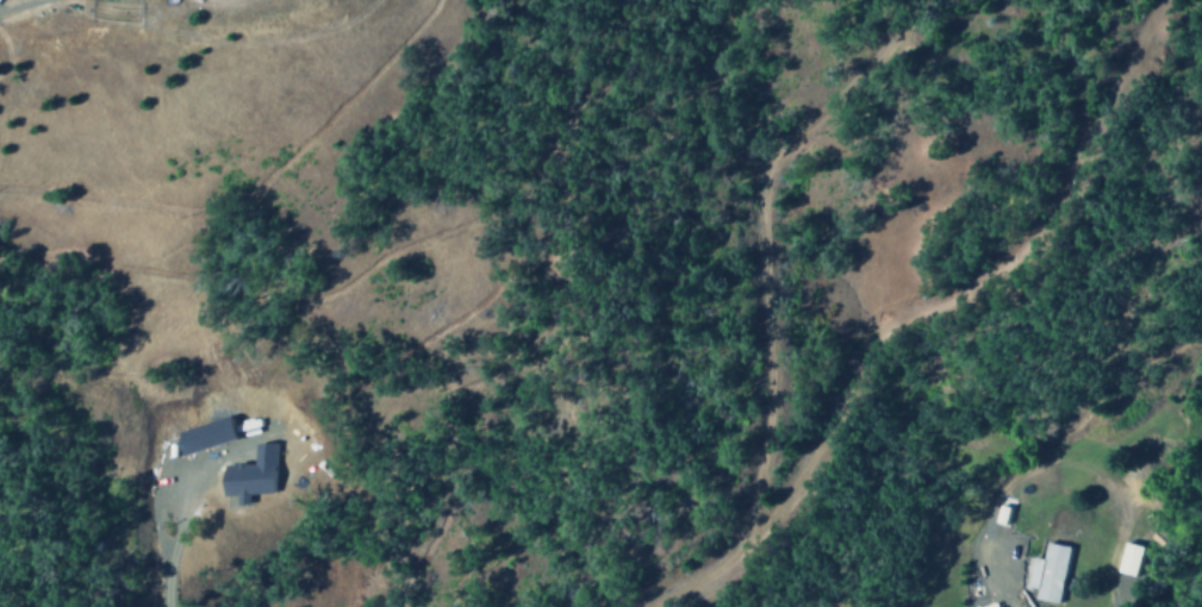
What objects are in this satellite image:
road: (755, 265)
road: (907, 314)
building: (1044, 571)
road: (695, 578)
building: (992, 606)

